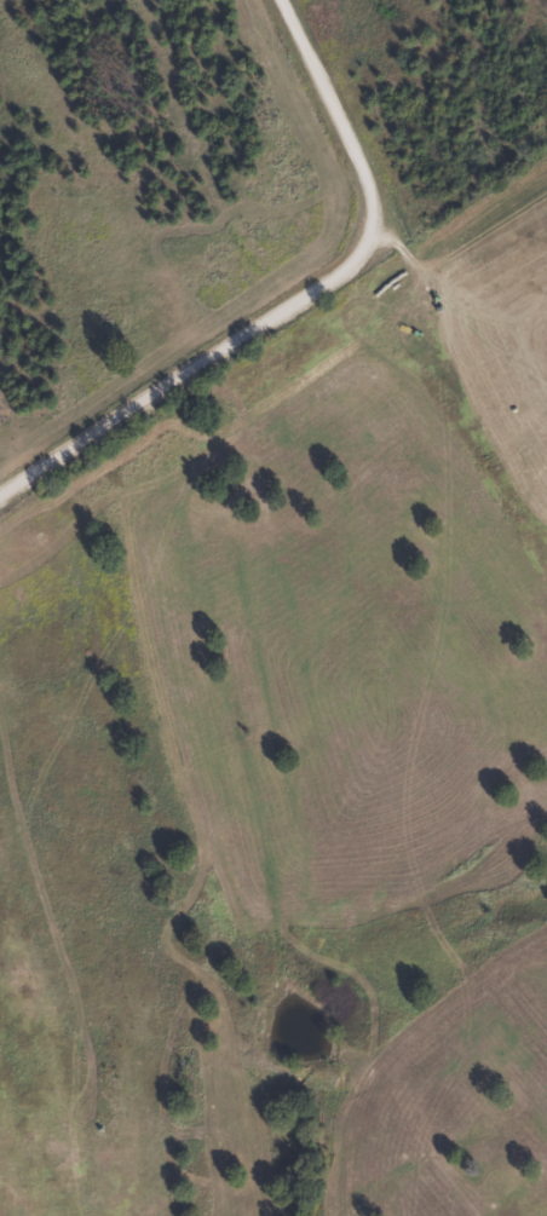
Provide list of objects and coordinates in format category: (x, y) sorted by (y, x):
road: (272, 298)

